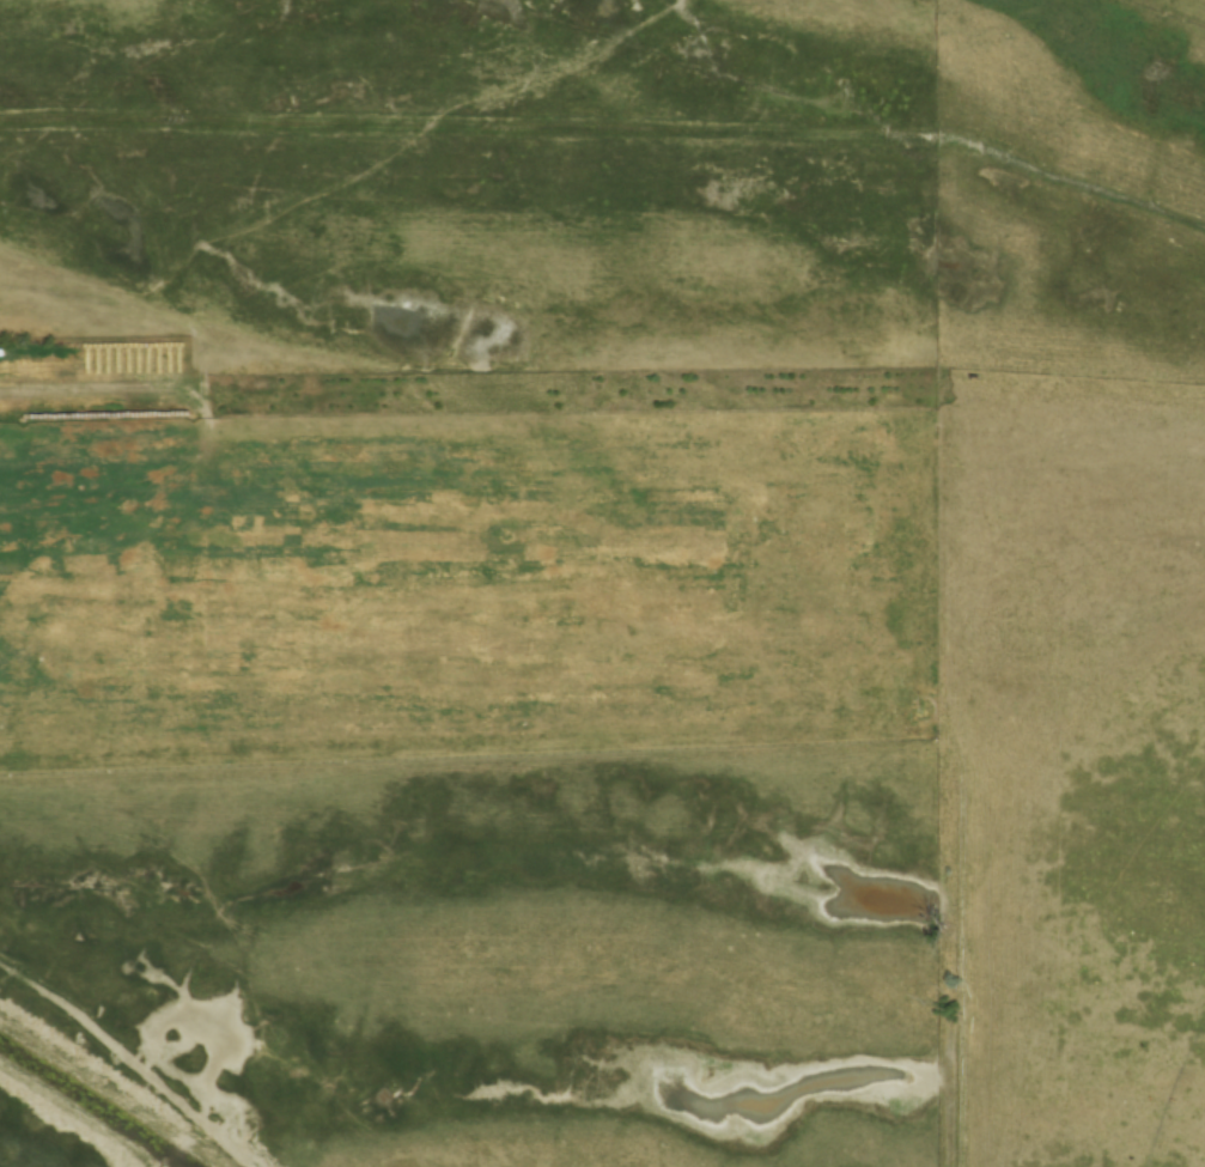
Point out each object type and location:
building: (1122, 700)

